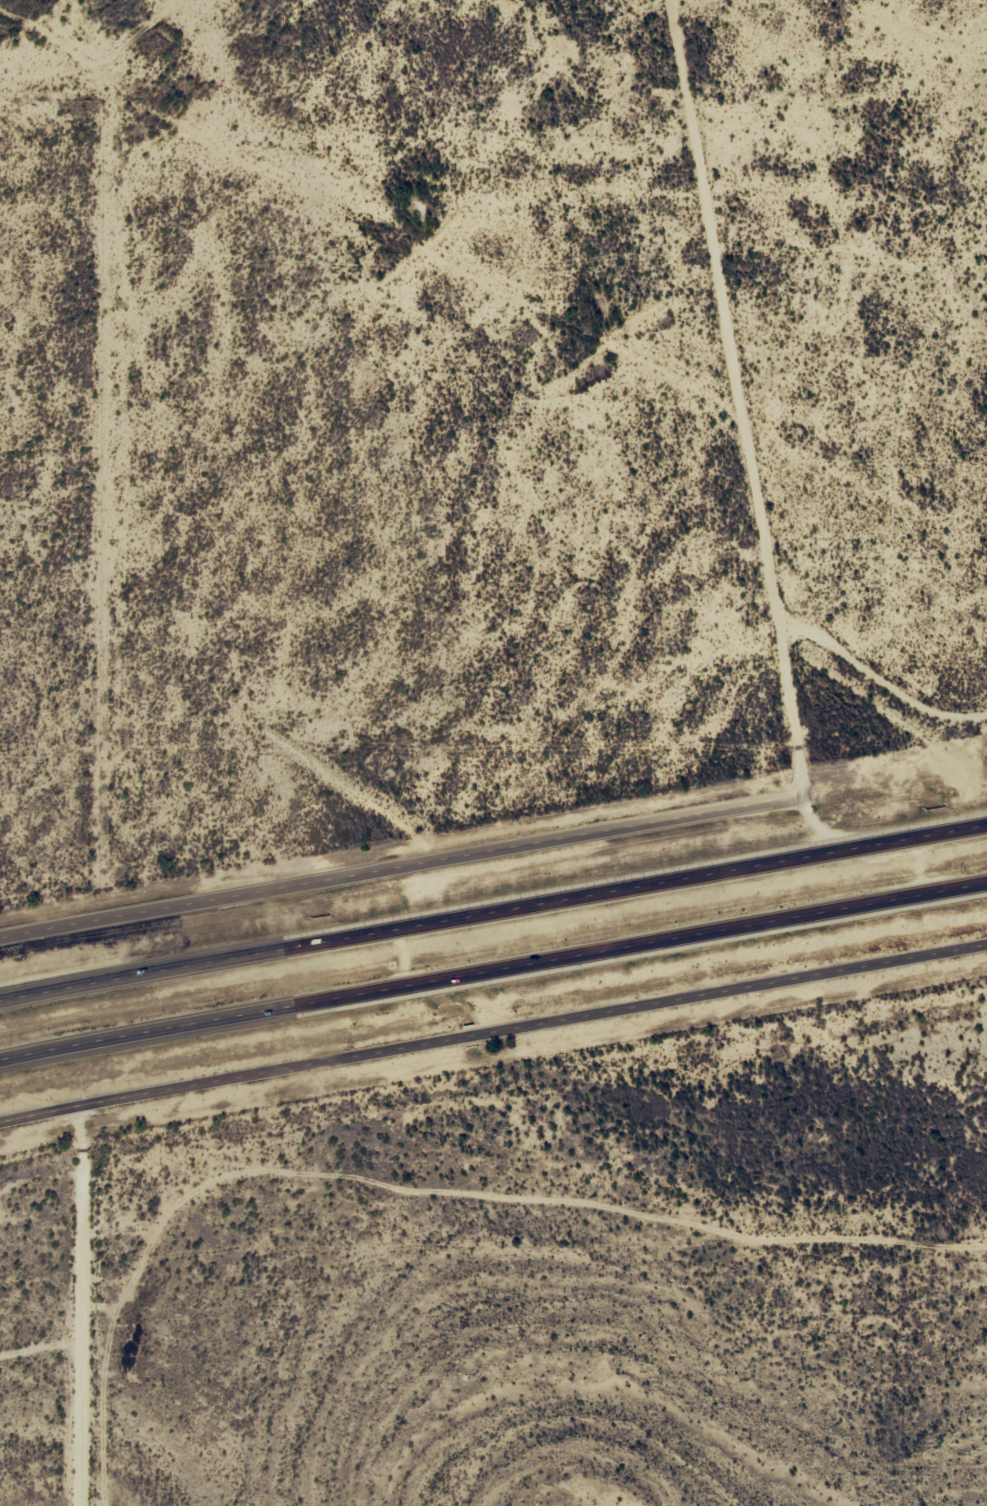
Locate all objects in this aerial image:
road: (171, 21)
road: (370, 210)
road: (750, 396)
road: (400, 864)
road: (493, 910)
road: (493, 977)
road: (493, 1032)

